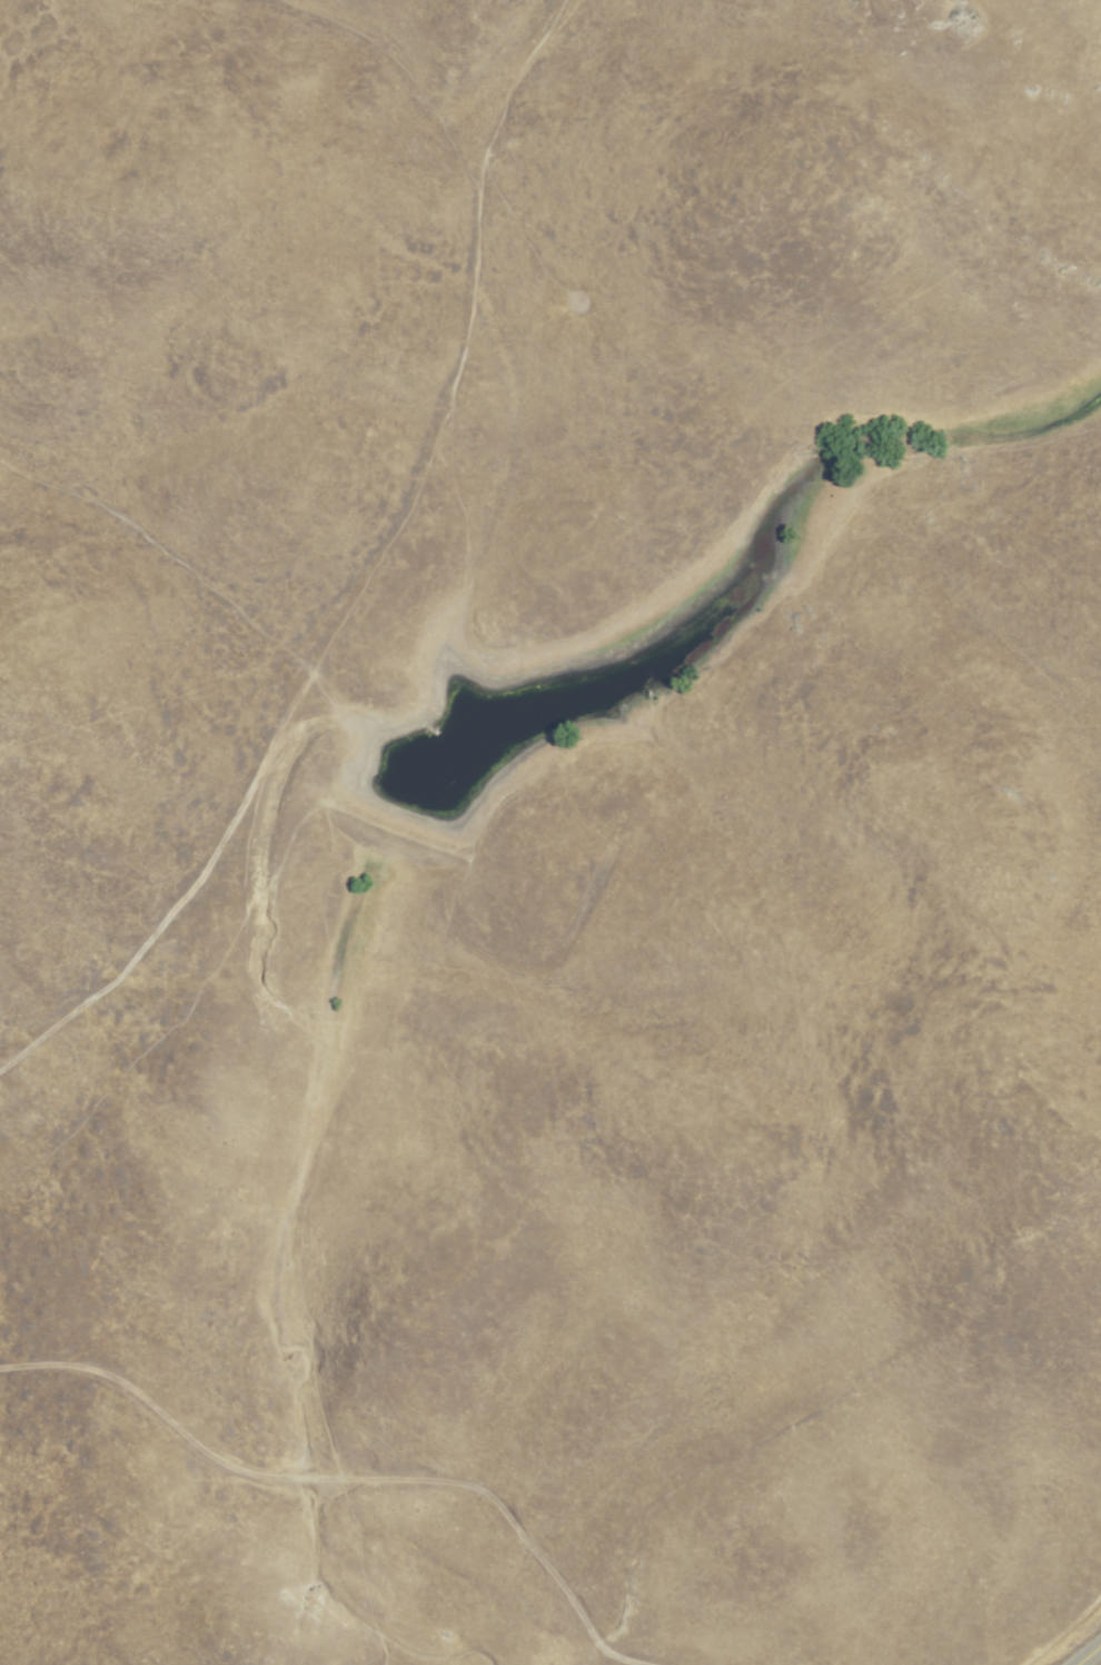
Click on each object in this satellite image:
road: (1088, 1654)

